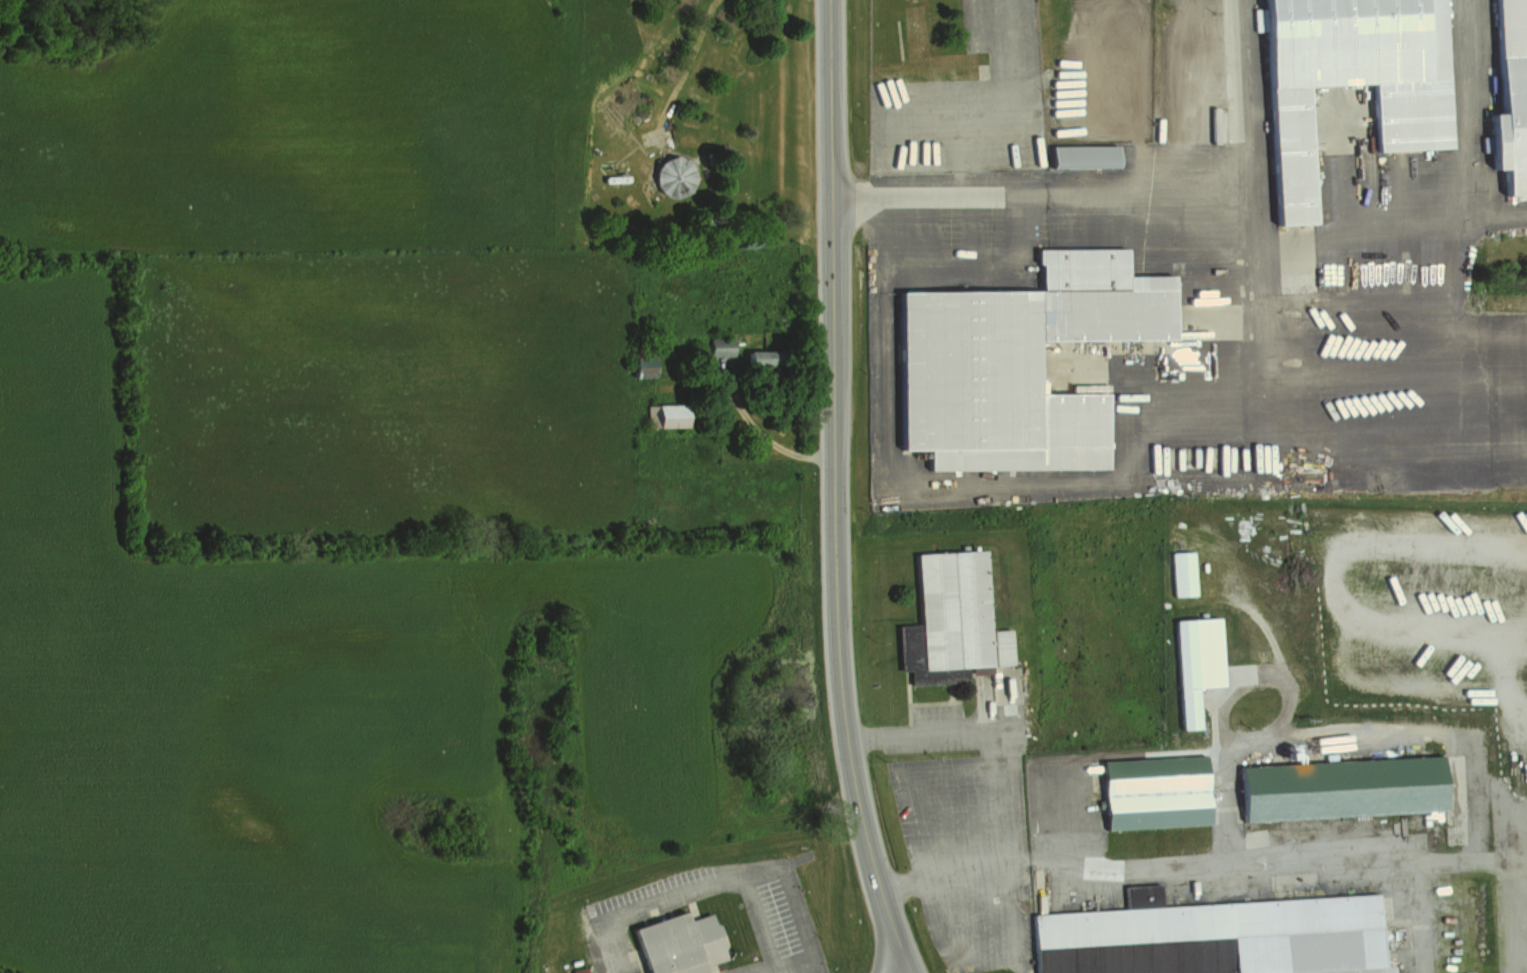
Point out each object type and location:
road: (697, 58)
building: (1353, 77)
building: (1511, 95)
building: (1078, 154)
building: (669, 176)
road: (1042, 192)
road: (1448, 203)
road: (1485, 216)
road: (953, 263)
road: (1260, 326)
building: (715, 347)
building: (750, 359)
building: (1022, 362)
building: (656, 416)
road: (765, 436)
road: (980, 485)
road: (831, 491)
building: (1182, 572)
building: (951, 620)
building: (1196, 662)
building: (1342, 787)
building: (1154, 791)
road: (1201, 865)
road: (724, 876)
road: (1011, 899)
parking lot: (610, 916)
road: (1419, 916)
building: (1212, 936)
building: (679, 944)
road: (1518, 963)
road: (897, 967)
building: (577, 968)

